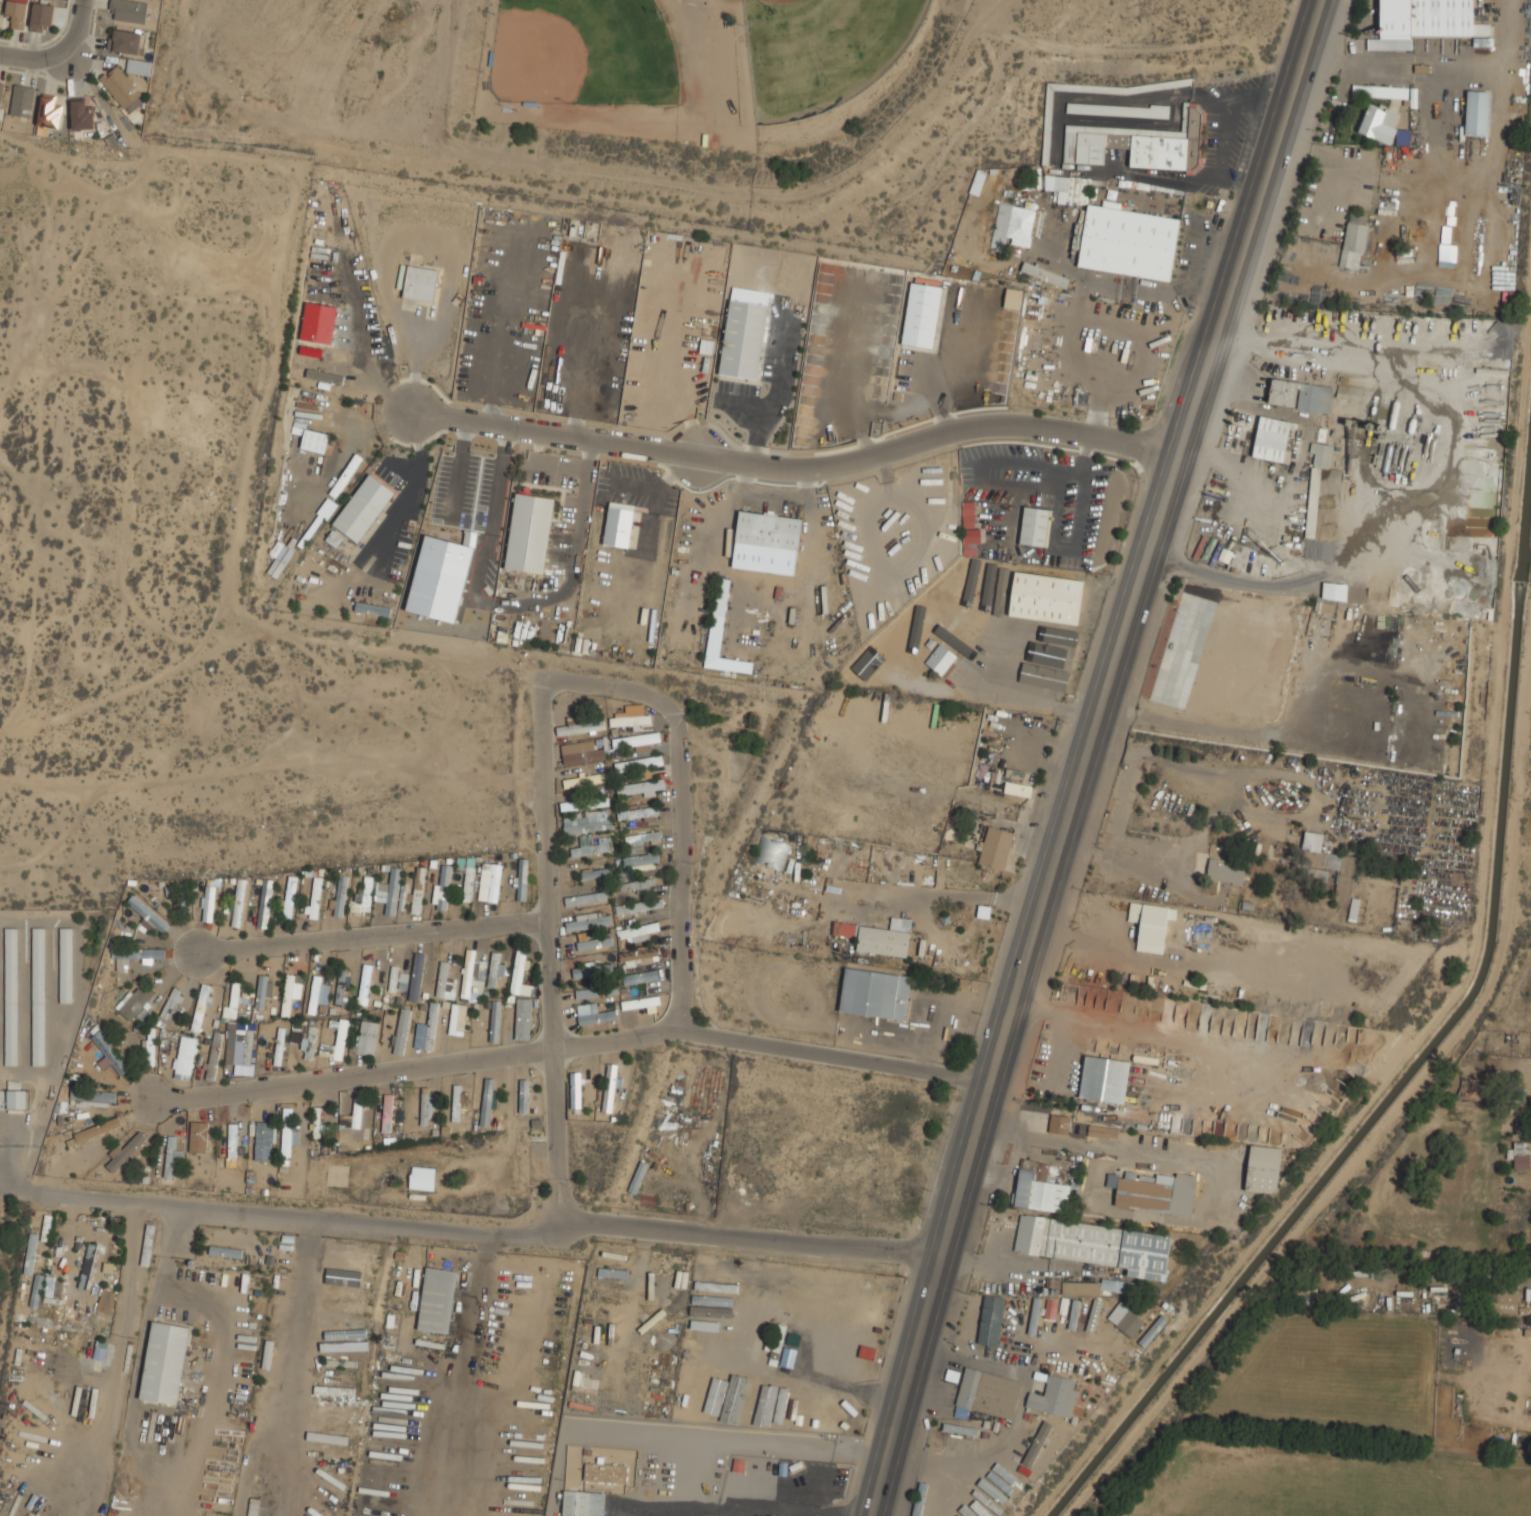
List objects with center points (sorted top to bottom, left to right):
parking lot: (693, 1)
building: (0, 2)
building: (127, 10)
building: (16, 13)
building: (42, 15)
building: (1424, 21)
road: (76, 30)
building: (125, 41)
park: (818, 50)
park: (583, 52)
road: (35, 59)
building: (139, 67)
building: (122, 89)
building: (1, 90)
building: (1380, 90)
building: (22, 101)
park: (609, 103)
building: (1117, 109)
building: (49, 112)
building: (1477, 112)
building: (82, 116)
building: (1383, 125)
building: (1141, 143)
building: (1068, 189)
building: (1001, 224)
building: (1022, 225)
building: (1127, 241)
building: (1354, 241)
building: (1045, 274)
building: (421, 283)
building: (921, 314)
building: (317, 323)
building: (743, 332)
building: (308, 351)
road: (413, 367)
building: (325, 376)
building: (1282, 391)
building: (1349, 392)
building: (1315, 397)
building: (1274, 439)
building: (314, 441)
building: (1321, 454)
road: (550, 464)
road: (459, 469)
road: (797, 471)
road: (675, 474)
road: (417, 484)
road: (498, 495)
parking lot: (1054, 501)
building: (1312, 502)
building: (364, 508)
building: (969, 521)
building: (618, 524)
building: (1035, 526)
parking lot: (905, 528)
building: (768, 529)
building: (530, 533)
building: (334, 537)
road: (574, 567)
road: (478, 575)
building: (1334, 591)
building: (1046, 597)
building: (372, 609)
building: (721, 633)
building: (940, 659)
building: (630, 719)
building: (580, 727)
building: (635, 739)
building: (600, 743)
building: (583, 755)
road: (1088, 755)
building: (638, 763)
building: (584, 780)
building: (640, 786)
building: (1012, 787)
road: (678, 799)
building: (584, 803)
building: (637, 813)
building: (586, 822)
building: (642, 838)
building: (592, 846)
building: (996, 848)
building: (771, 850)
building: (641, 861)
building: (1332, 869)
building: (1226, 871)
building: (594, 873)
building: (467, 876)
building: (522, 879)
building: (490, 882)
building: (637, 885)
building: (443, 887)
building: (418, 890)
building: (389, 892)
building: (340, 895)
building: (403, 896)
building: (315, 897)
building: (363, 897)
building: (289, 899)
building: (239, 902)
building: (264, 903)
building: (208, 904)
building: (185, 905)
building: (639, 905)
building: (147, 914)
building: (588, 921)
building: (1150, 925)
building: (639, 931)
road: (371, 936)
building: (877, 936)
building: (592, 941)
road: (545, 949)
building: (638, 955)
building: (136, 956)
building: (66, 965)
building: (493, 969)
building: (592, 969)
building: (518, 970)
building: (416, 976)
building: (639, 977)
building: (395, 978)
building: (442, 978)
building: (471, 980)
building: (364, 983)
building: (342, 990)
building: (262, 991)
building: (291, 991)
building: (319, 991)
building: (596, 991)
building: (875, 993)
building: (11, 996)
building: (38, 996)
building: (235, 1001)
building: (640, 1001)
building: (170, 1003)
building: (138, 1004)
building: (200, 1008)
building: (593, 1014)
building: (523, 1018)
building: (458, 1019)
building: (495, 1021)
building: (302, 1025)
building: (427, 1029)
road: (1147, 1031)
building: (402, 1032)
building: (367, 1037)
building: (308, 1042)
building: (336, 1043)
building: (279, 1045)
building: (150, 1046)
building: (248, 1046)
road: (571, 1046)
building: (109, 1054)
building: (213, 1055)
building: (184, 1057)
building: (1104, 1079)
building: (610, 1087)
building: (575, 1090)
building: (1473, 1090)
building: (524, 1095)
building: (13, 1097)
building: (92, 1098)
building: (489, 1100)
building: (456, 1102)
building: (425, 1105)
building: (387, 1113)
building: (1092, 1116)
building: (356, 1122)
building: (321, 1124)
building: (1060, 1125)
building: (97, 1129)
building: (1102, 1131)
building: (288, 1132)
building: (199, 1136)
building: (229, 1141)
building: (265, 1141)
building: (124, 1151)
building: (1521, 1154)
building: (170, 1157)
building: (1263, 1169)
building: (423, 1177)
building: (1041, 1187)
building: (1154, 1191)
road: (495, 1235)
building: (1095, 1244)
building: (356, 1249)
building: (224, 1251)
building: (29, 1254)
building: (345, 1261)
building: (87, 1265)
building: (107, 1267)
building: (356, 1273)
road: (170, 1275)
building: (1095, 1286)
building: (37, 1289)
building: (799, 1292)
building: (282, 1297)
building: (438, 1299)
building: (106, 1300)
building: (861, 1303)
building: (1506, 1303)
building: (346, 1307)
building: (1074, 1314)
building: (1093, 1315)
building: (709, 1316)
building: (1051, 1318)
building: (999, 1319)
building: (1125, 1319)
building: (342, 1325)
road: (299, 1329)
building: (1153, 1331)
building: (1451, 1343)
building: (777, 1344)
building: (337, 1345)
building: (164, 1362)
building: (337, 1382)
building: (989, 1393)
building: (1055, 1396)
building: (717, 1397)
building: (695, 1400)
building: (749, 1401)
building: (780, 1404)
building: (807, 1406)
building: (335, 1409)
building: (827, 1413)
building: (847, 1417)
building: (966, 1429)
building: (1037, 1444)
building: (329, 1452)
building: (605, 1472)
building: (1001, 1484)
building: (991, 1490)
building: (585, 1503)
building: (982, 1504)
road: (738, 1509)
building: (965, 1511)
road: (724, 1513)
building: (958, 1515)

